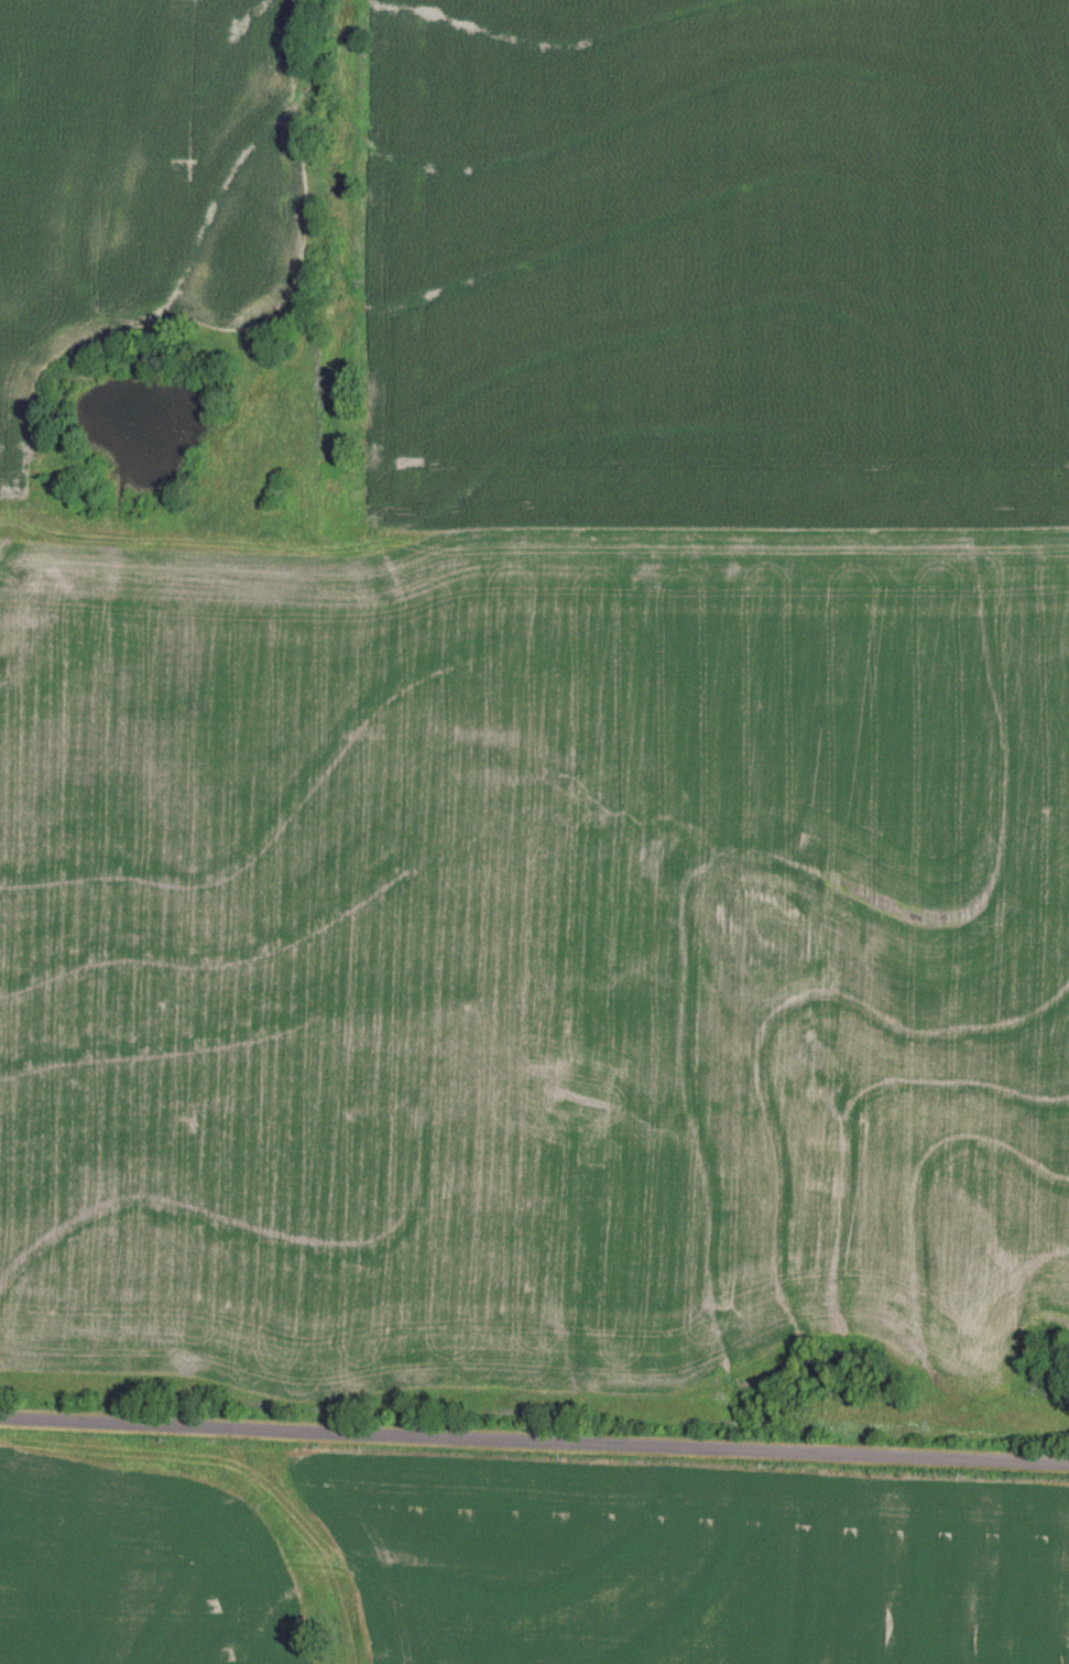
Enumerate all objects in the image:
road: (534, 1440)

